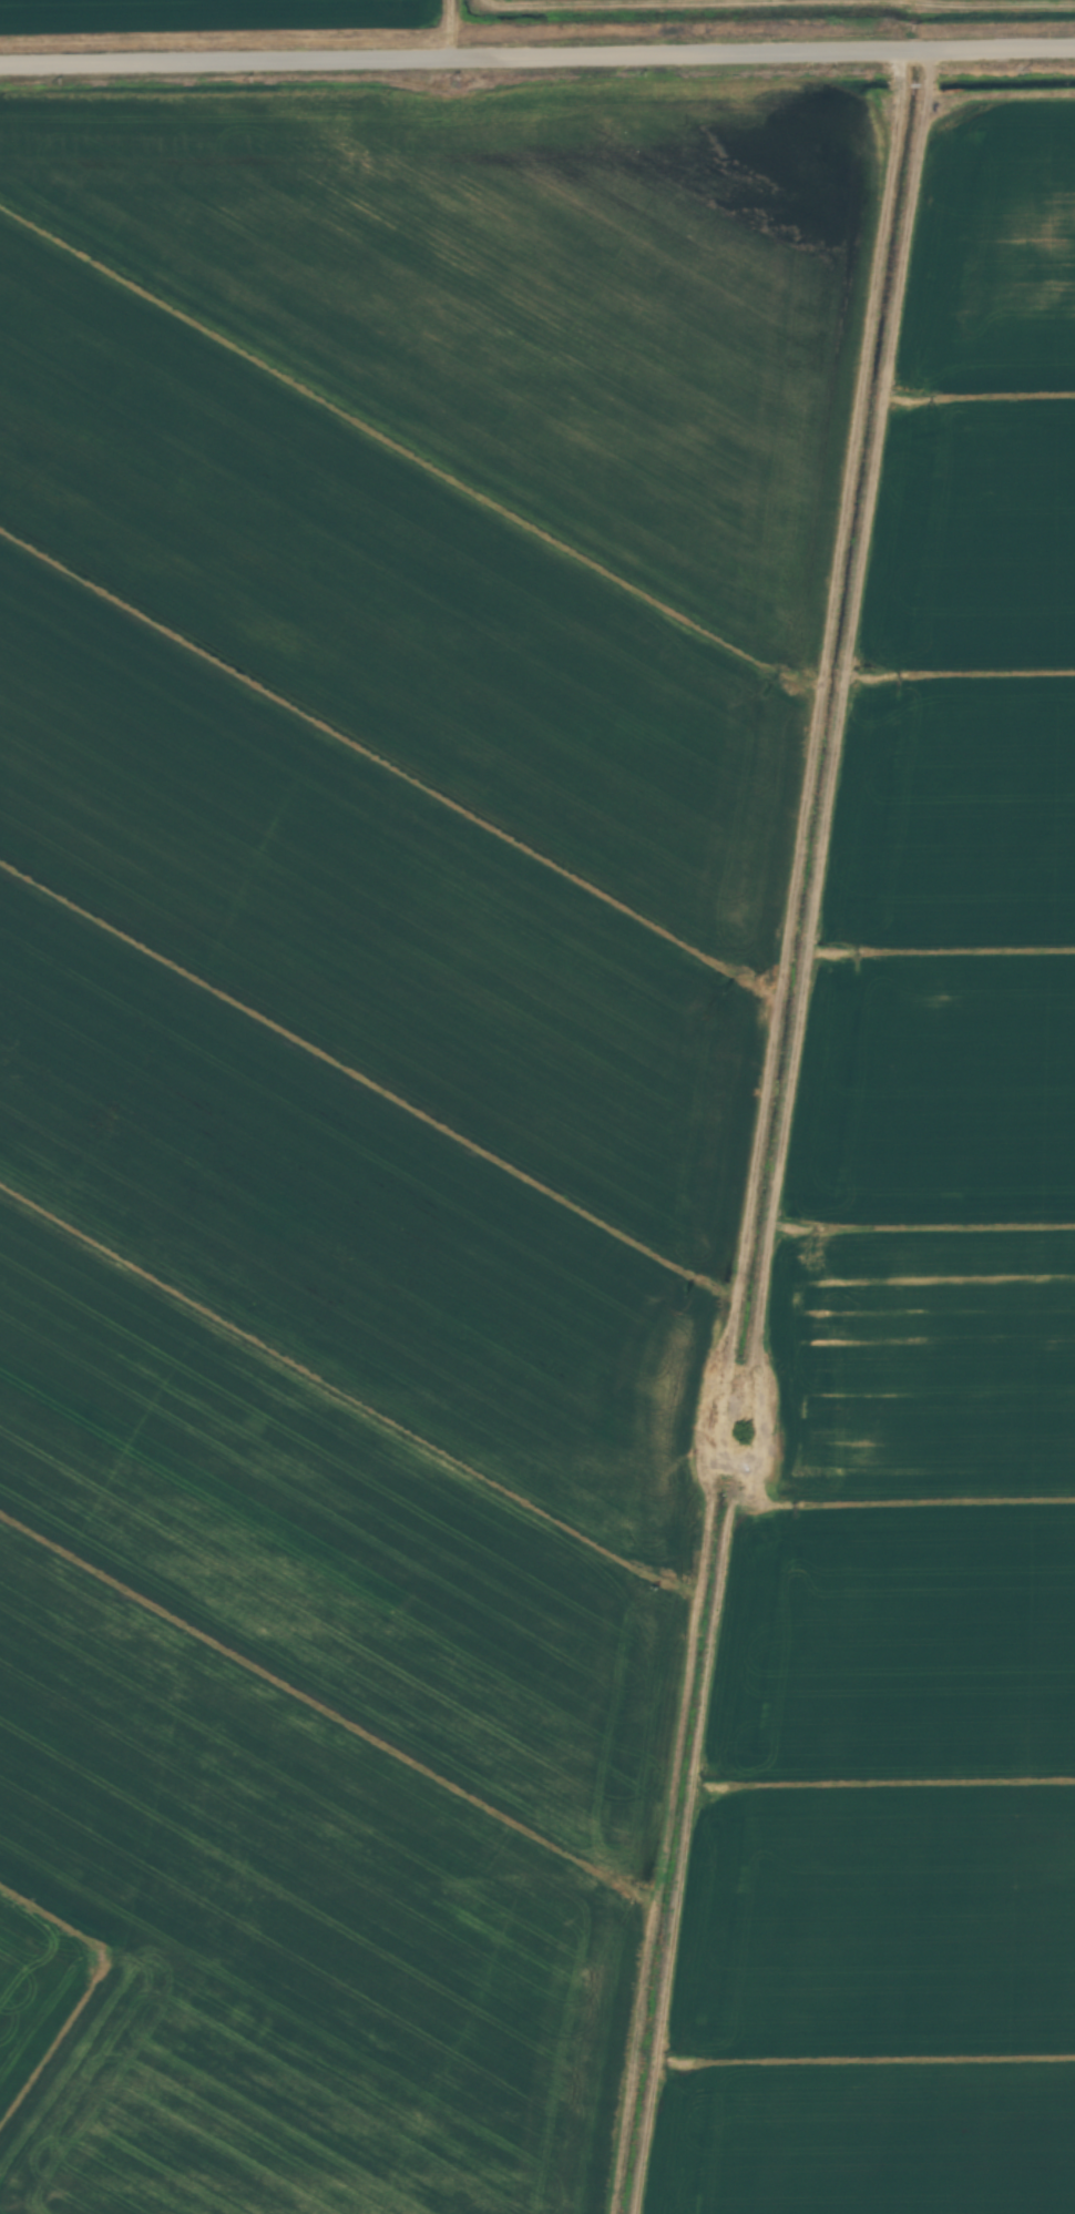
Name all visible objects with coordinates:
road: (537, 68)

